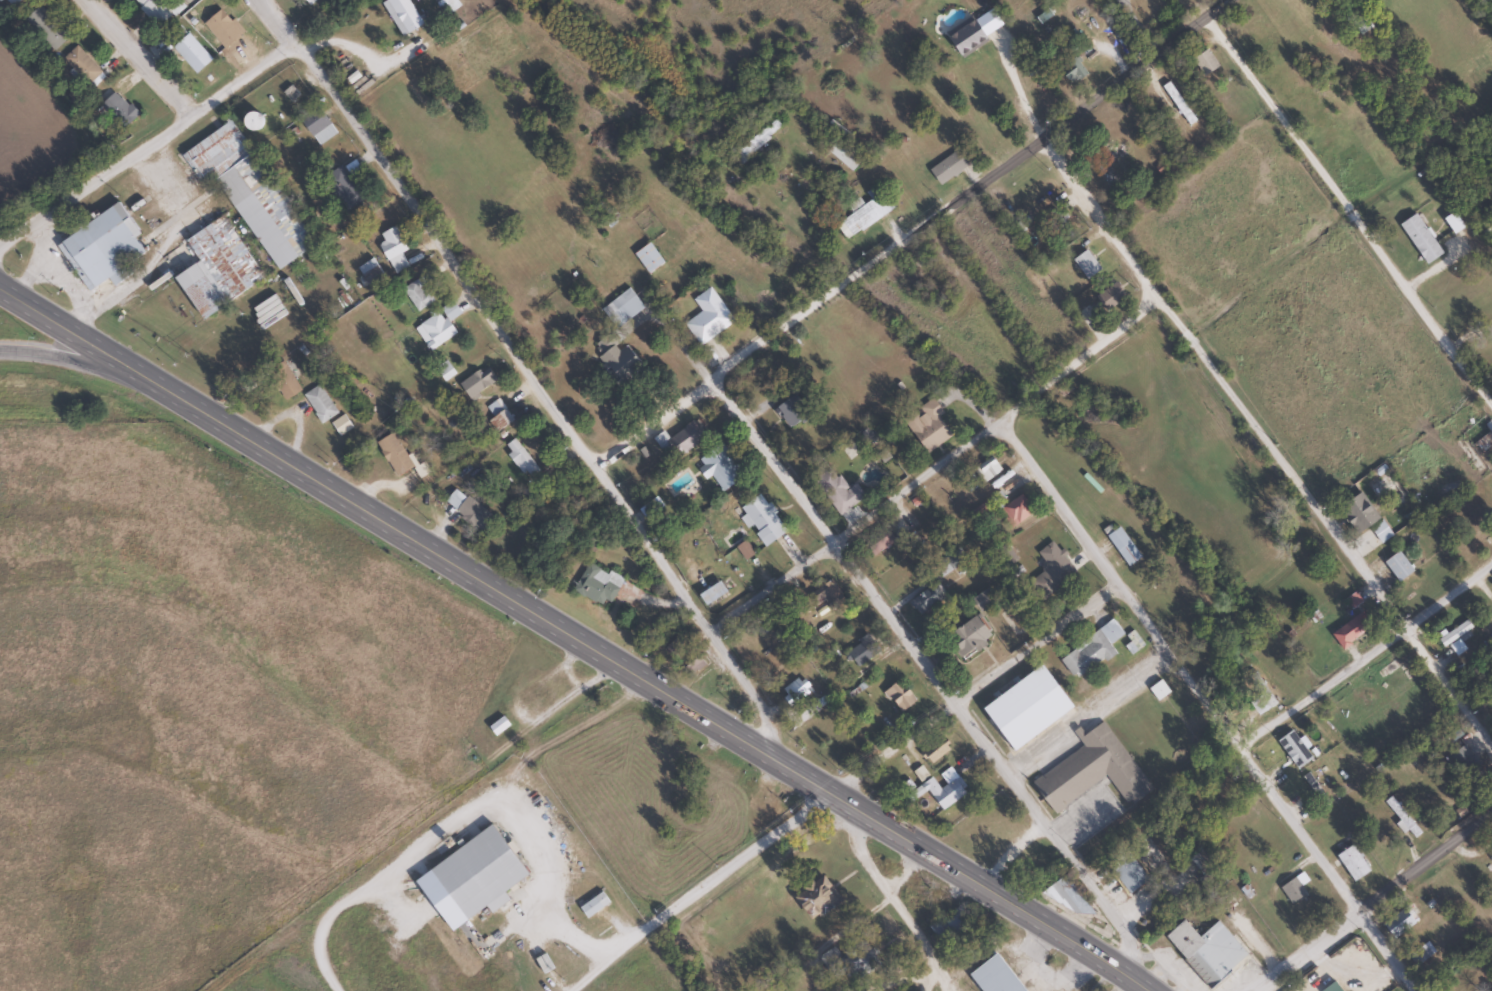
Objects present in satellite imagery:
building: (308, 1)
building: (12, 2)
building: (153, 12)
building: (400, 15)
road: (275, 21)
building: (45, 28)
building: (224, 30)
building: (189, 52)
road: (138, 59)
building: (1203, 62)
building: (81, 66)
road: (243, 79)
building: (114, 106)
building: (249, 121)
building: (317, 126)
building: (758, 138)
building: (946, 168)
building: (1109, 168)
road: (94, 178)
building: (340, 190)
building: (247, 193)
road: (1340, 210)
building: (865, 213)
building: (1451, 223)
road: (908, 238)
building: (1419, 239)
building: (100, 249)
building: (391, 250)
building: (647, 258)
building: (1085, 265)
building: (366, 272)
building: (215, 276)
building: (414, 295)
building: (1111, 296)
building: (620, 308)
building: (707, 317)
building: (435, 327)
building: (615, 361)
road: (90, 364)
building: (282, 381)
building: (475, 383)
railway: (1025, 392)
road: (541, 393)
building: (318, 404)
building: (788, 411)
building: (497, 415)
road: (987, 425)
building: (926, 426)
building: (683, 440)
road: (1269, 446)
building: (392, 455)
building: (519, 459)
building: (718, 468)
building: (420, 470)
building: (980, 474)
building: (837, 491)
building: (466, 509)
building: (1015, 510)
building: (1356, 511)
building: (764, 522)
building: (1380, 531)
building: (1476, 539)
building: (879, 543)
building: (1122, 545)
building: (743, 550)
building: (1007, 554)
building: (946, 564)
building: (1396, 566)
building: (1051, 571)
building: (595, 584)
building: (709, 593)
building: (825, 594)
building: (928, 597)
road: (569, 631)
building: (1349, 631)
building: (1454, 632)
building: (966, 635)
building: (1134, 643)
building: (1090, 650)
building: (857, 654)
road: (1367, 656)
road: (929, 674)
building: (1399, 680)
building: (1158, 690)
building: (793, 692)
road: (965, 694)
building: (1257, 694)
building: (899, 696)
road: (1210, 707)
building: (497, 726)
building: (932, 749)
building: (1293, 749)
building: (1464, 763)
building: (1089, 770)
building: (941, 790)
building: (1315, 790)
building: (1403, 819)
road: (877, 850)
building: (1490, 858)
building: (1200, 861)
building: (1351, 863)
building: (1126, 871)
building: (475, 873)
building: (1294, 887)
building: (814, 898)
road: (793, 900)
road: (1380, 901)
building: (592, 905)
road: (894, 918)
building: (1398, 922)
building: (1205, 951)
building: (1420, 954)
building: (847, 963)
building: (991, 975)
road: (1156, 980)

